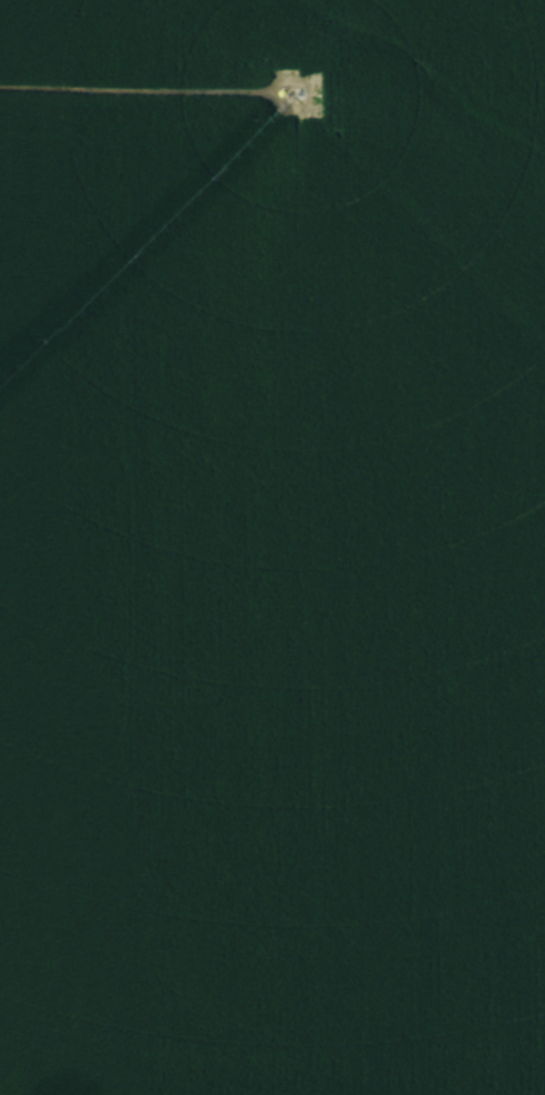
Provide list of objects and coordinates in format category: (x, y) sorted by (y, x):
building: (349, 797)
building: (364, 1067)

